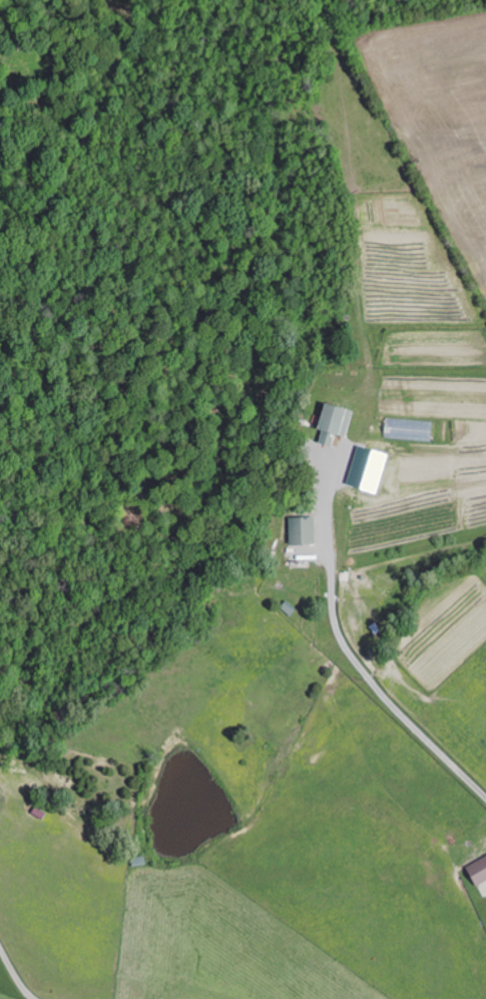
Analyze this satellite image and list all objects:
building: (339, 424)
building: (306, 530)
road: (351, 656)
building: (480, 870)
building: (484, 887)
road: (14, 976)

